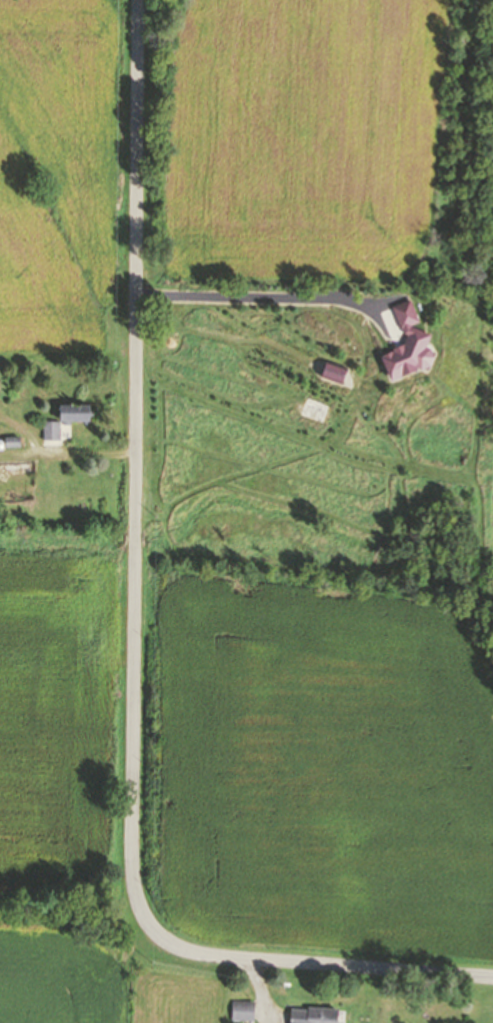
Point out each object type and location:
road: (263, 297)
building: (413, 344)
building: (78, 411)
building: (52, 428)
building: (14, 439)
road: (60, 452)
road: (131, 641)
road: (260, 989)
building: (245, 1007)
building: (317, 1014)

